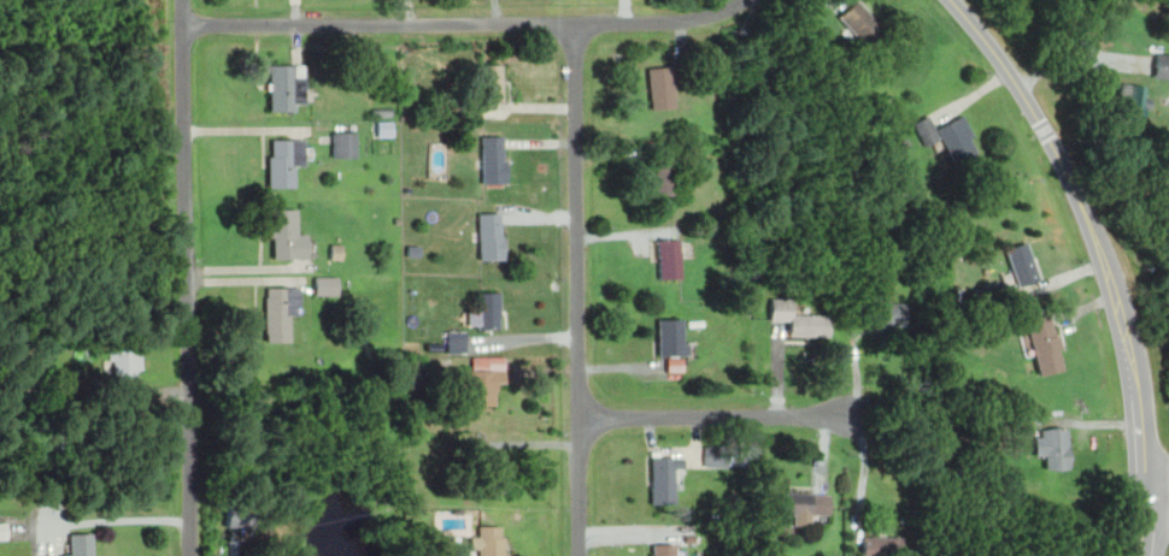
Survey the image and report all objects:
road: (464, 23)
building: (862, 24)
road: (1093, 30)
road: (1068, 63)
building: (1161, 66)
building: (490, 84)
building: (287, 88)
building: (660, 89)
building: (1132, 103)
building: (948, 137)
building: (343, 146)
building: (493, 160)
building: (283, 161)
building: (665, 175)
building: (286, 237)
building: (490, 237)
road: (1104, 258)
building: (668, 260)
building: (1022, 265)
road: (184, 278)
road: (243, 278)
building: (325, 288)
road: (577, 289)
building: (487, 312)
building: (280, 313)
building: (883, 315)
building: (798, 320)
building: (670, 339)
building: (1045, 345)
building: (124, 365)
building: (483, 388)
road: (715, 415)
building: (1053, 448)
building: (716, 457)
building: (492, 472)
road: (1157, 477)
building: (663, 480)
building: (800, 505)
road: (1157, 513)
building: (239, 517)
road: (114, 522)
building: (2, 532)
building: (81, 545)
building: (881, 546)
building: (663, 550)

